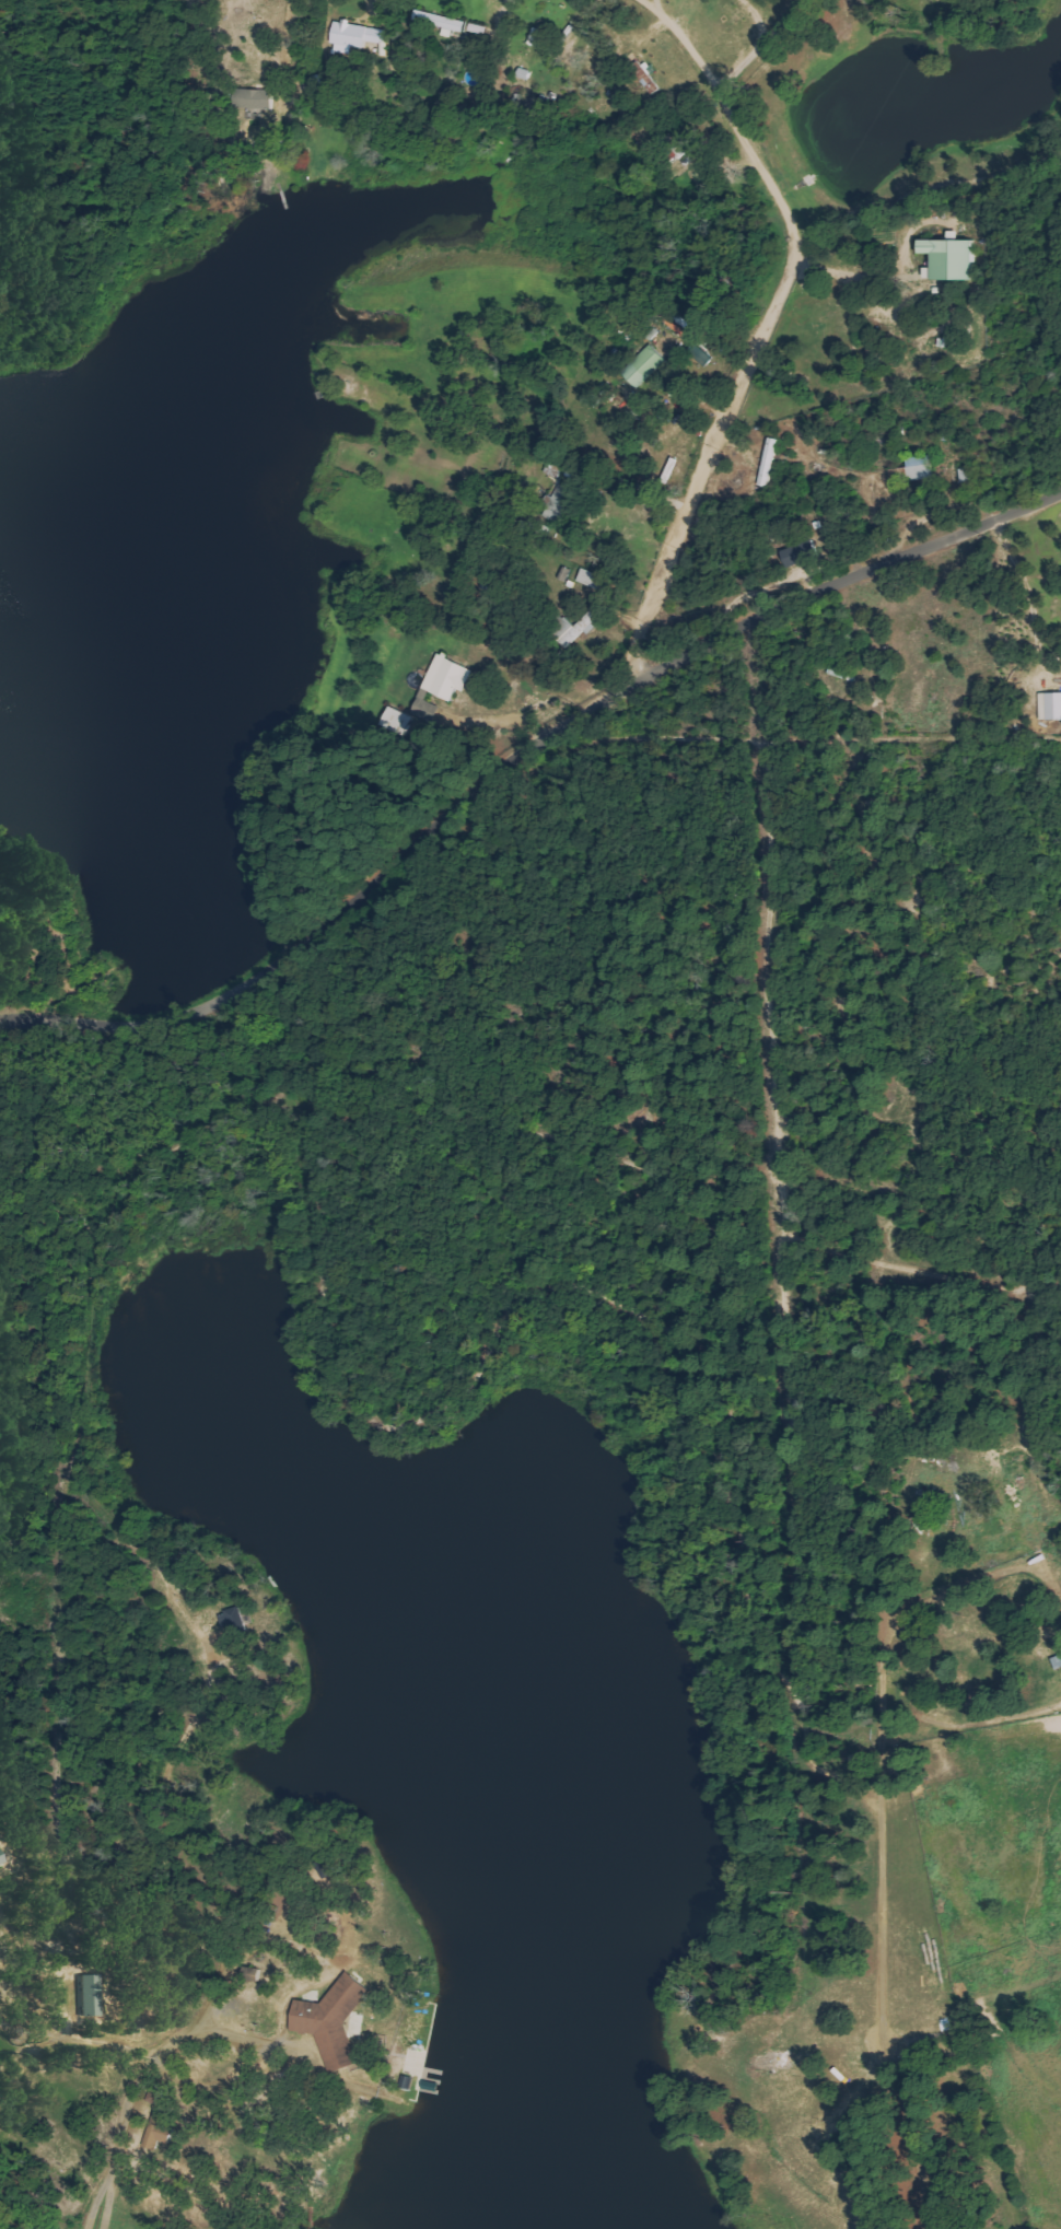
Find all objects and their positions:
building: (441, 21)
building: (358, 36)
road: (681, 44)
building: (646, 78)
building: (254, 98)
building: (953, 258)
road: (771, 323)
building: (700, 355)
building: (645, 365)
building: (921, 468)
building: (900, 474)
building: (801, 553)
building: (448, 677)
building: (1050, 705)
building: (398, 720)
road: (513, 761)
building: (1, 1859)
building: (91, 1995)
building: (334, 2021)
road: (121, 2132)
building: (159, 2132)

